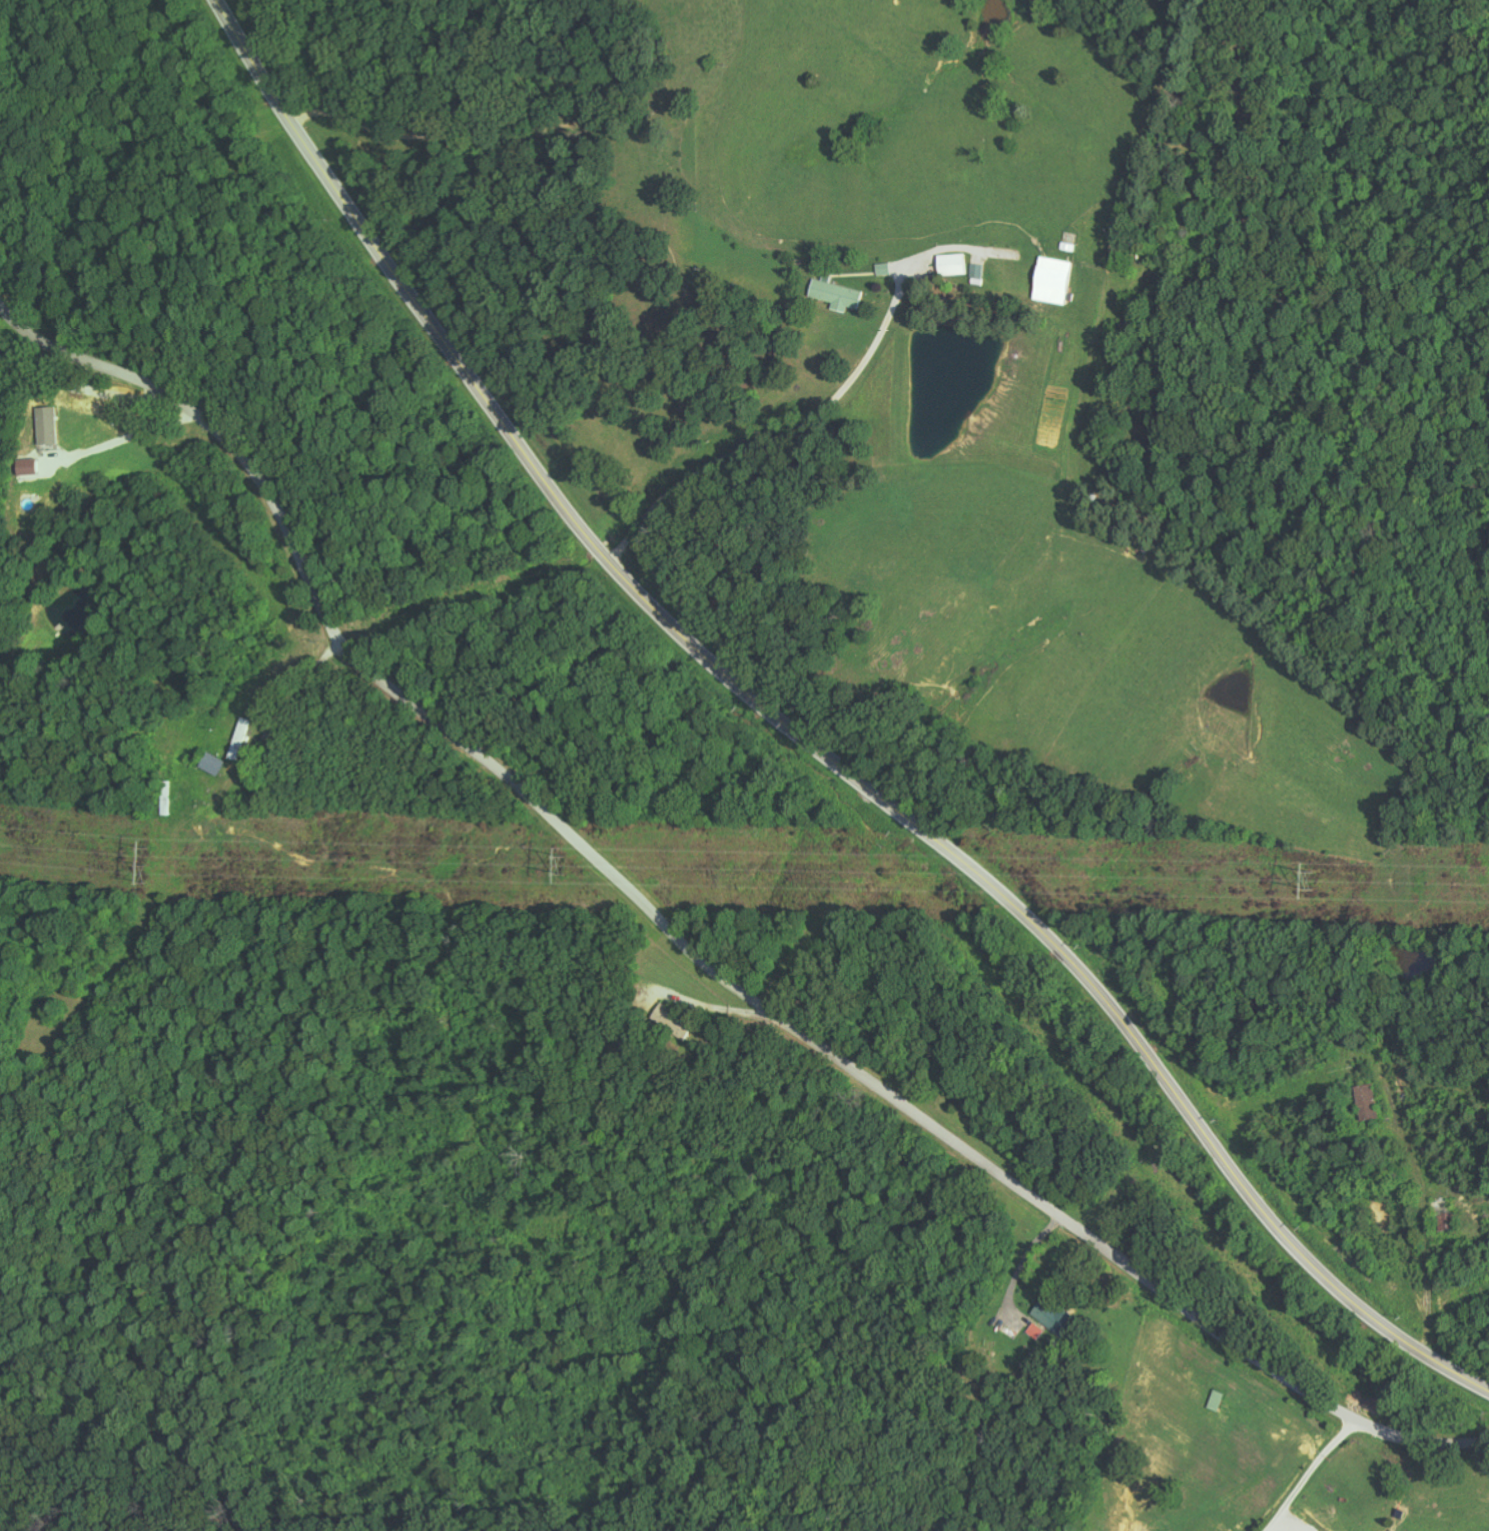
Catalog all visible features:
building: (950, 265)
building: (1052, 280)
building: (834, 295)
building: (44, 426)
building: (25, 467)
road: (806, 740)
building: (210, 763)
power tower: (147, 863)
power tower: (562, 866)
power tower: (1316, 879)
road: (684, 939)
building: (1365, 1102)
building: (1046, 1316)
road: (841, 1331)
building: (1215, 1400)
road: (1304, 1469)

